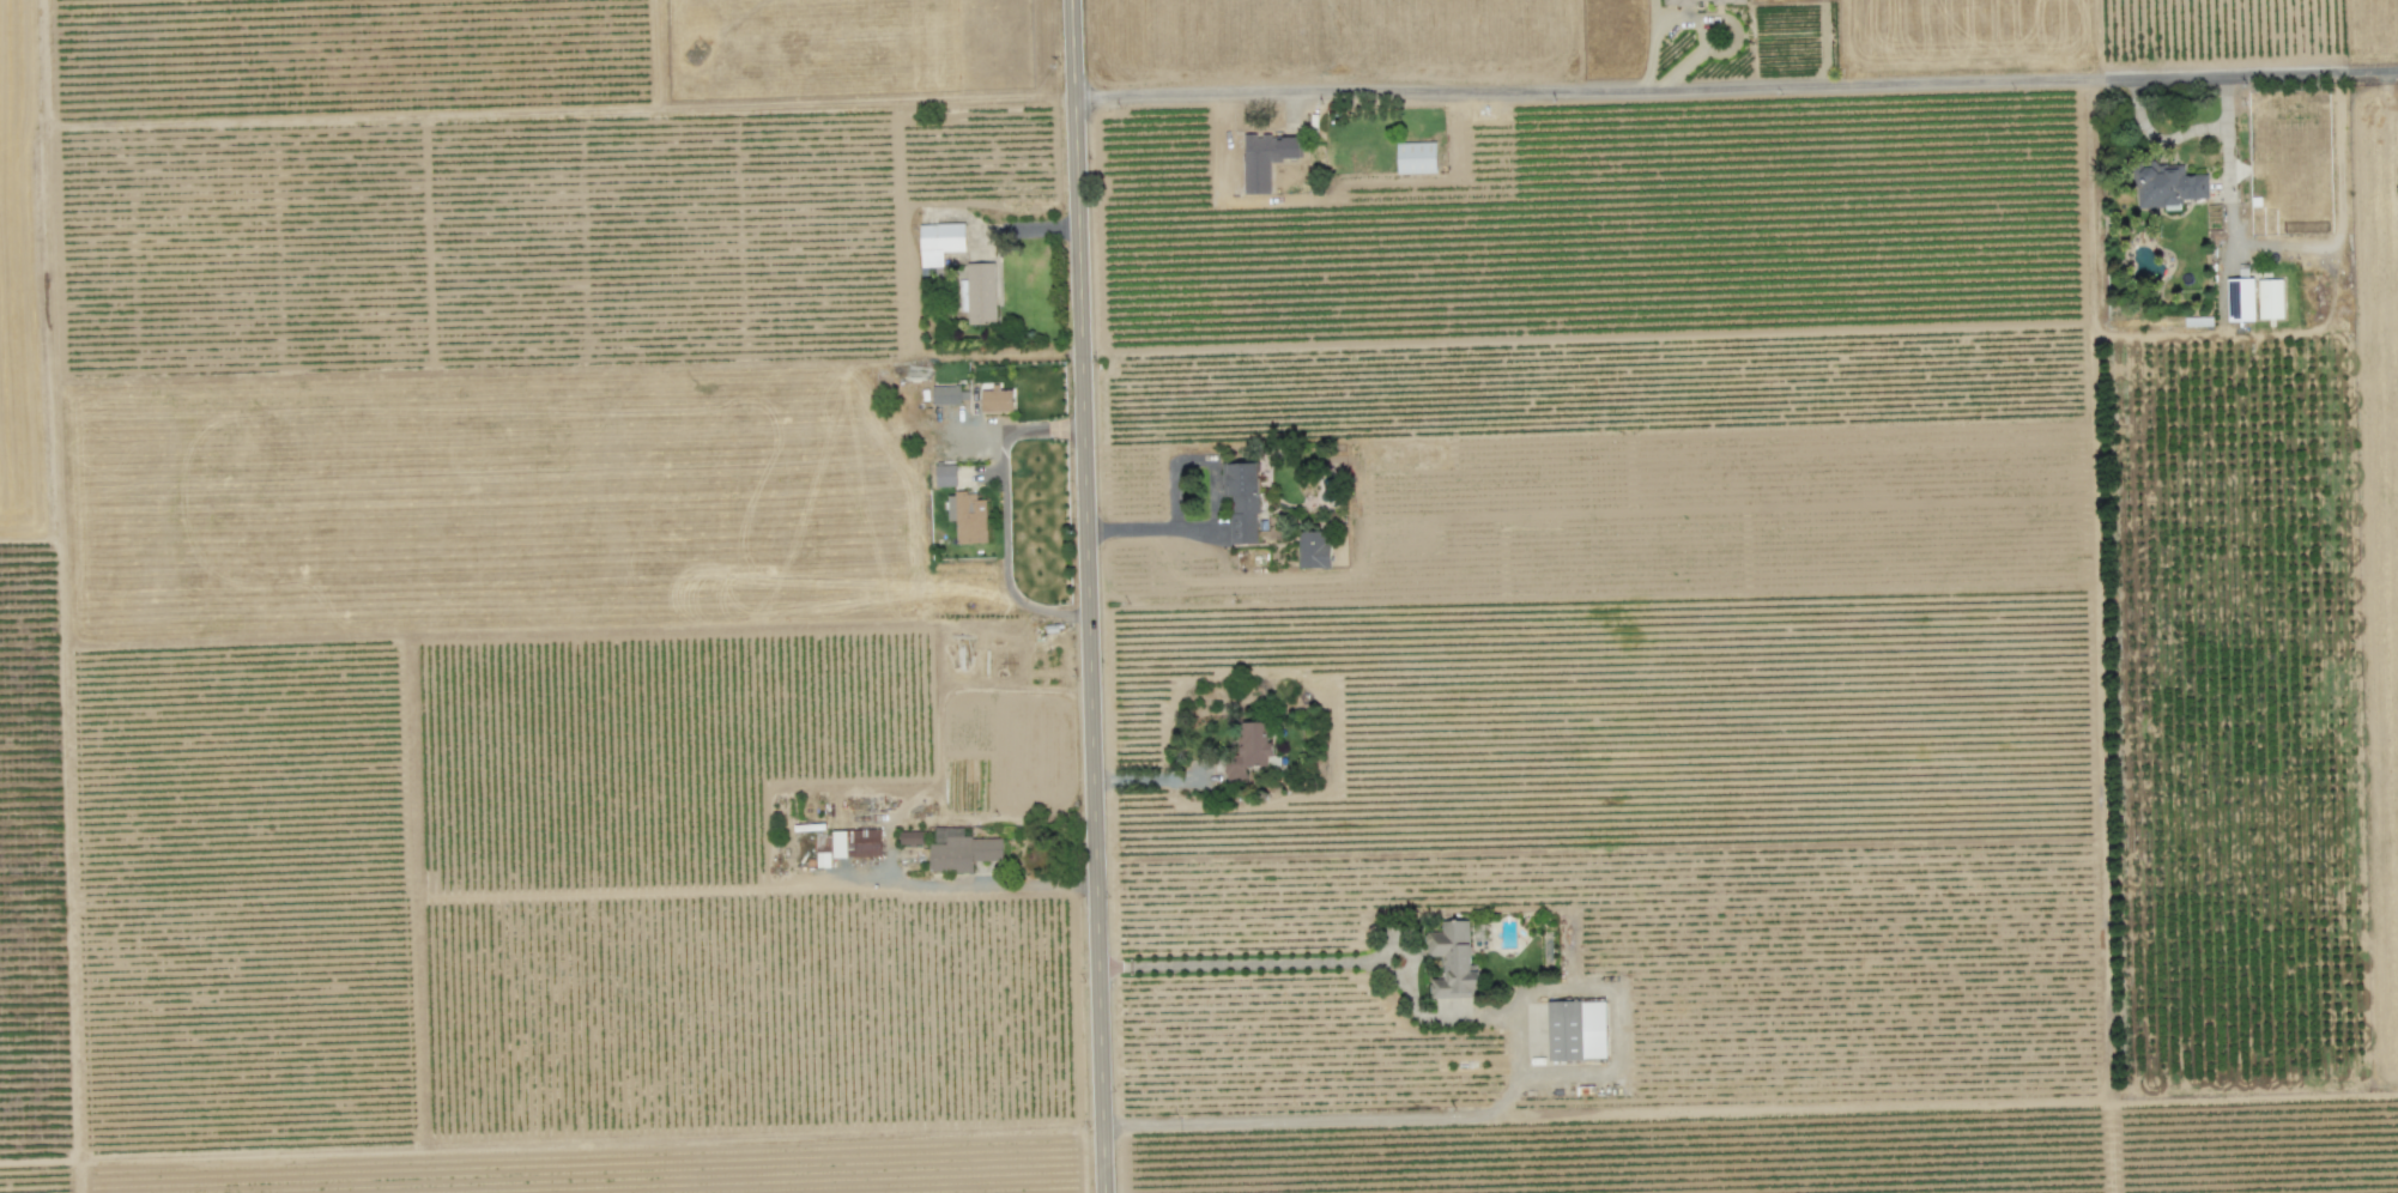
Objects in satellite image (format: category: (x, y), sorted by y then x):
road: (1736, 86)
building: (1417, 157)
building: (1266, 158)
building: (2169, 187)
building: (940, 241)
road: (2288, 246)
building: (2270, 298)
building: (2241, 299)
building: (945, 394)
building: (997, 400)
building: (945, 474)
building: (1242, 502)
road: (1217, 504)
road: (1003, 514)
building: (968, 516)
building: (1313, 549)
road: (1083, 596)
building: (1248, 751)
building: (910, 837)
building: (866, 842)
building: (840, 843)
building: (961, 849)
road: (979, 884)
building: (1452, 959)
road: (1242, 961)
road: (1588, 988)
building: (1576, 1029)
road: (1749, 1108)

